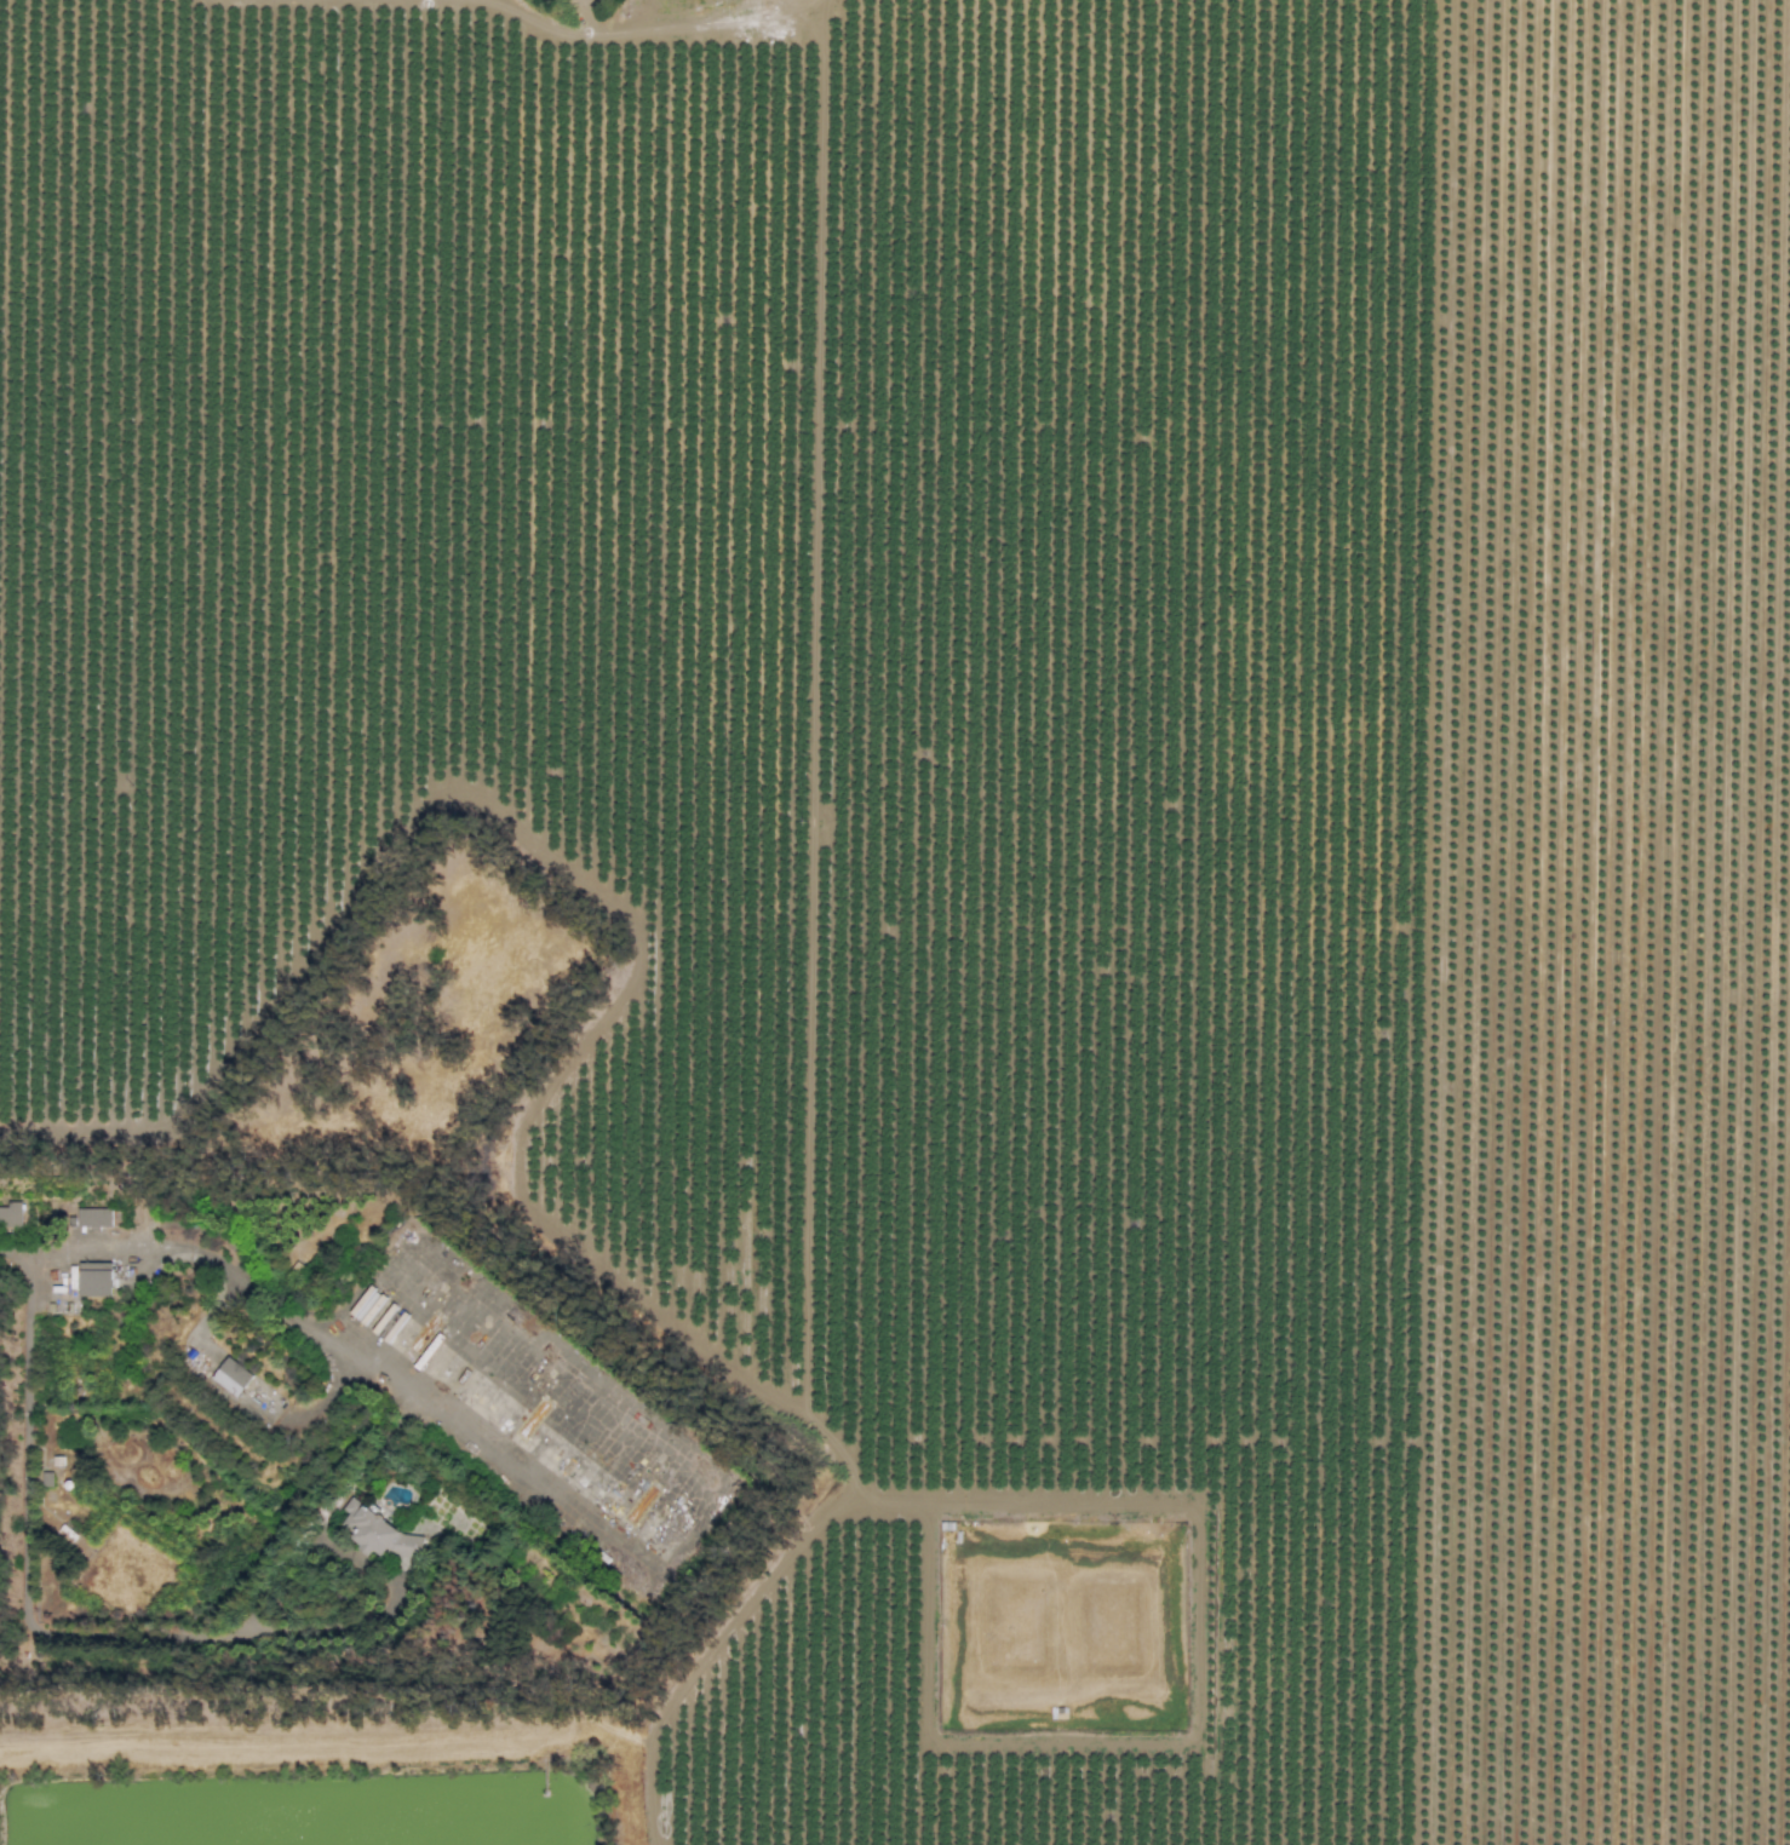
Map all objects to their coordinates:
building: (10, 1214)
building: (93, 1217)
building: (93, 1278)
road: (312, 1328)
building: (230, 1375)
building: (377, 1533)

